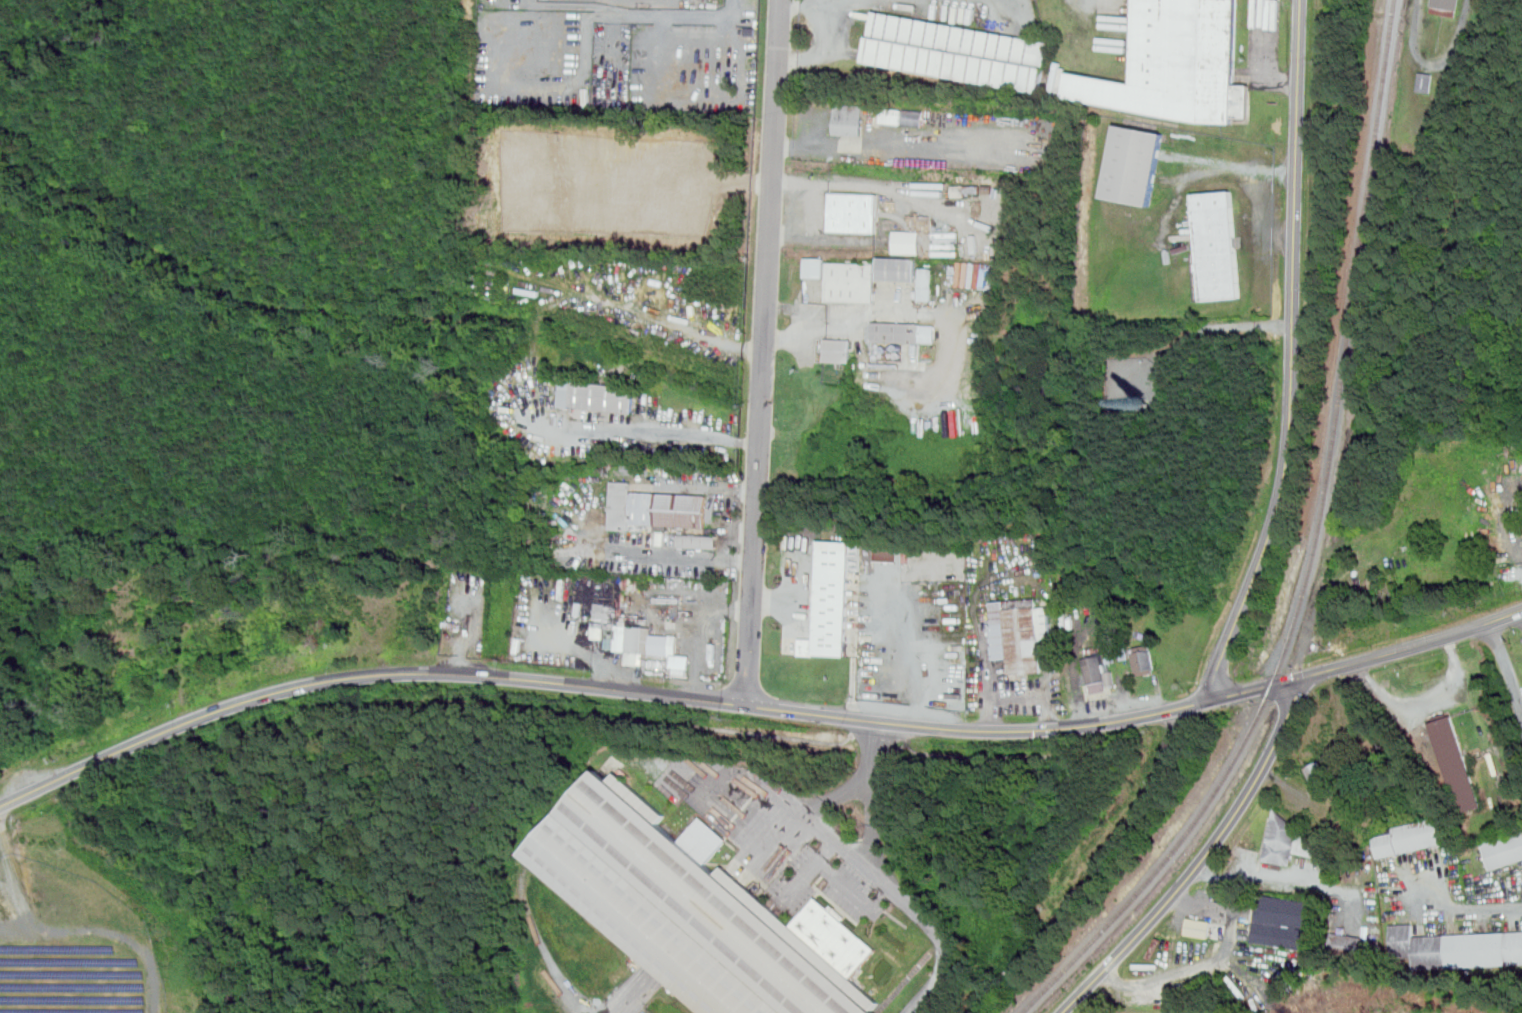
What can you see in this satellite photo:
road: (804, 2)
building: (1446, 7)
building: (957, 51)
building: (1177, 64)
building: (1426, 82)
building: (901, 115)
building: (847, 120)
building: (1134, 165)
road: (1238, 168)
road: (676, 172)
building: (853, 213)
building: (907, 241)
building: (1217, 245)
building: (815, 267)
building: (897, 269)
building: (851, 282)
building: (925, 284)
road: (626, 303)
road: (901, 313)
road: (797, 320)
road: (1204, 328)
building: (903, 332)
building: (877, 345)
storage tank: (877, 345)
building: (900, 347)
storage tank: (900, 347)
building: (891, 348)
storage tank: (891, 348)
building: (884, 349)
storage tank: (884, 349)
building: (877, 350)
storage tank: (877, 350)
building: (838, 351)
road: (764, 352)
building: (881, 354)
storage tank: (881, 354)
building: (891, 354)
storage tank: (891, 354)
building: (898, 354)
storage tank: (898, 354)
road: (1292, 356)
building: (603, 397)
road: (654, 433)
building: (656, 508)
building: (698, 541)
railway: (1314, 550)
road: (667, 553)
building: (887, 555)
building: (833, 598)
building: (455, 625)
building: (1021, 632)
road: (468, 635)
road: (706, 635)
building: (639, 642)
road: (582, 649)
road: (1398, 651)
building: (1144, 659)
road: (1506, 663)
building: (1097, 673)
road: (989, 680)
road: (627, 691)
road: (1033, 697)
road: (1421, 700)
road: (530, 706)
road: (883, 738)
road: (991, 757)
building: (1455, 762)
building: (1317, 772)
road: (786, 808)
building: (1408, 839)
building: (1283, 842)
building: (1503, 850)
road: (1202, 858)
road: (13, 877)
road: (886, 883)
road: (1468, 908)
building: (696, 909)
building: (1284, 920)
building: (1198, 927)
railway: (1043, 933)
building: (1353, 944)
solar farm: (73, 945)
building: (1456, 947)
road: (1211, 961)
road: (566, 977)

